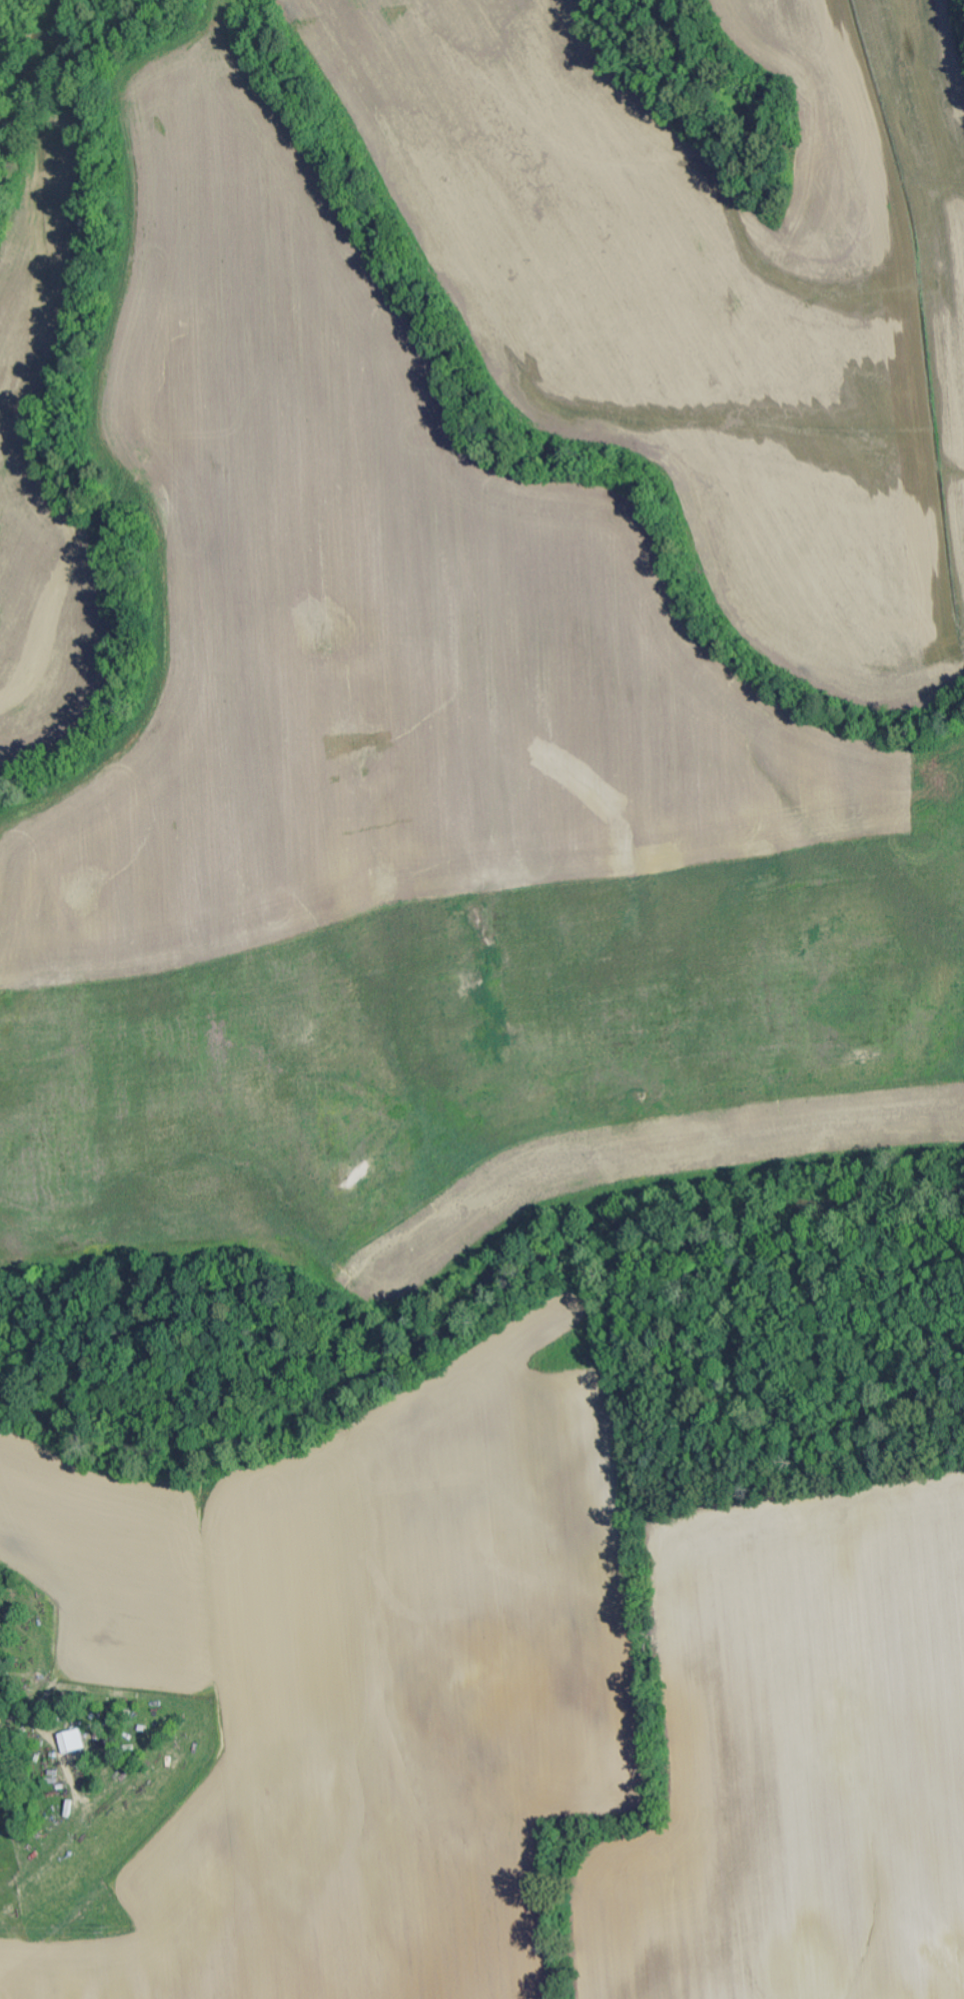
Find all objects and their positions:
building: (74, 1741)

